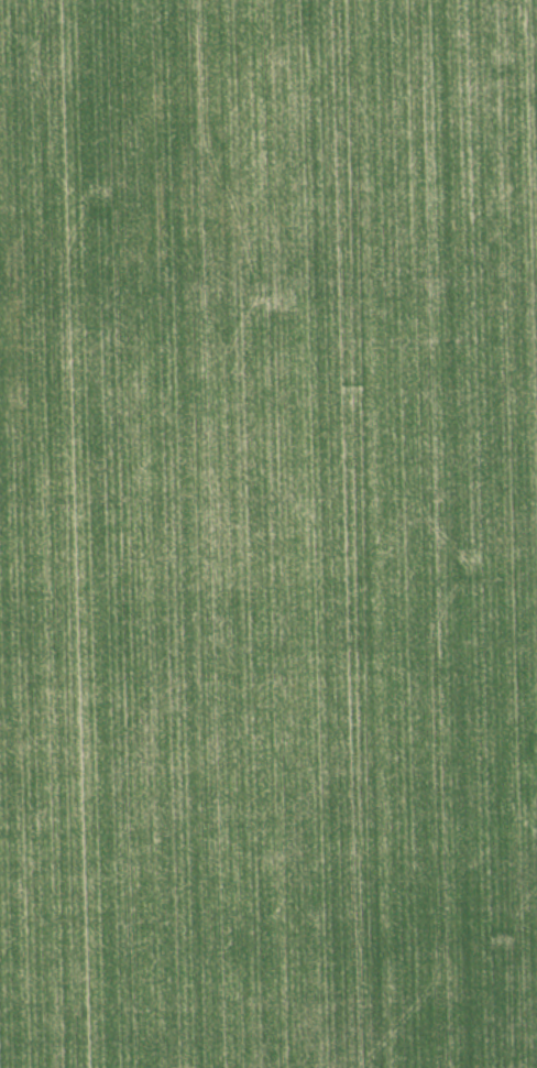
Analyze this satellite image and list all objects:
crop: (268, 534)

